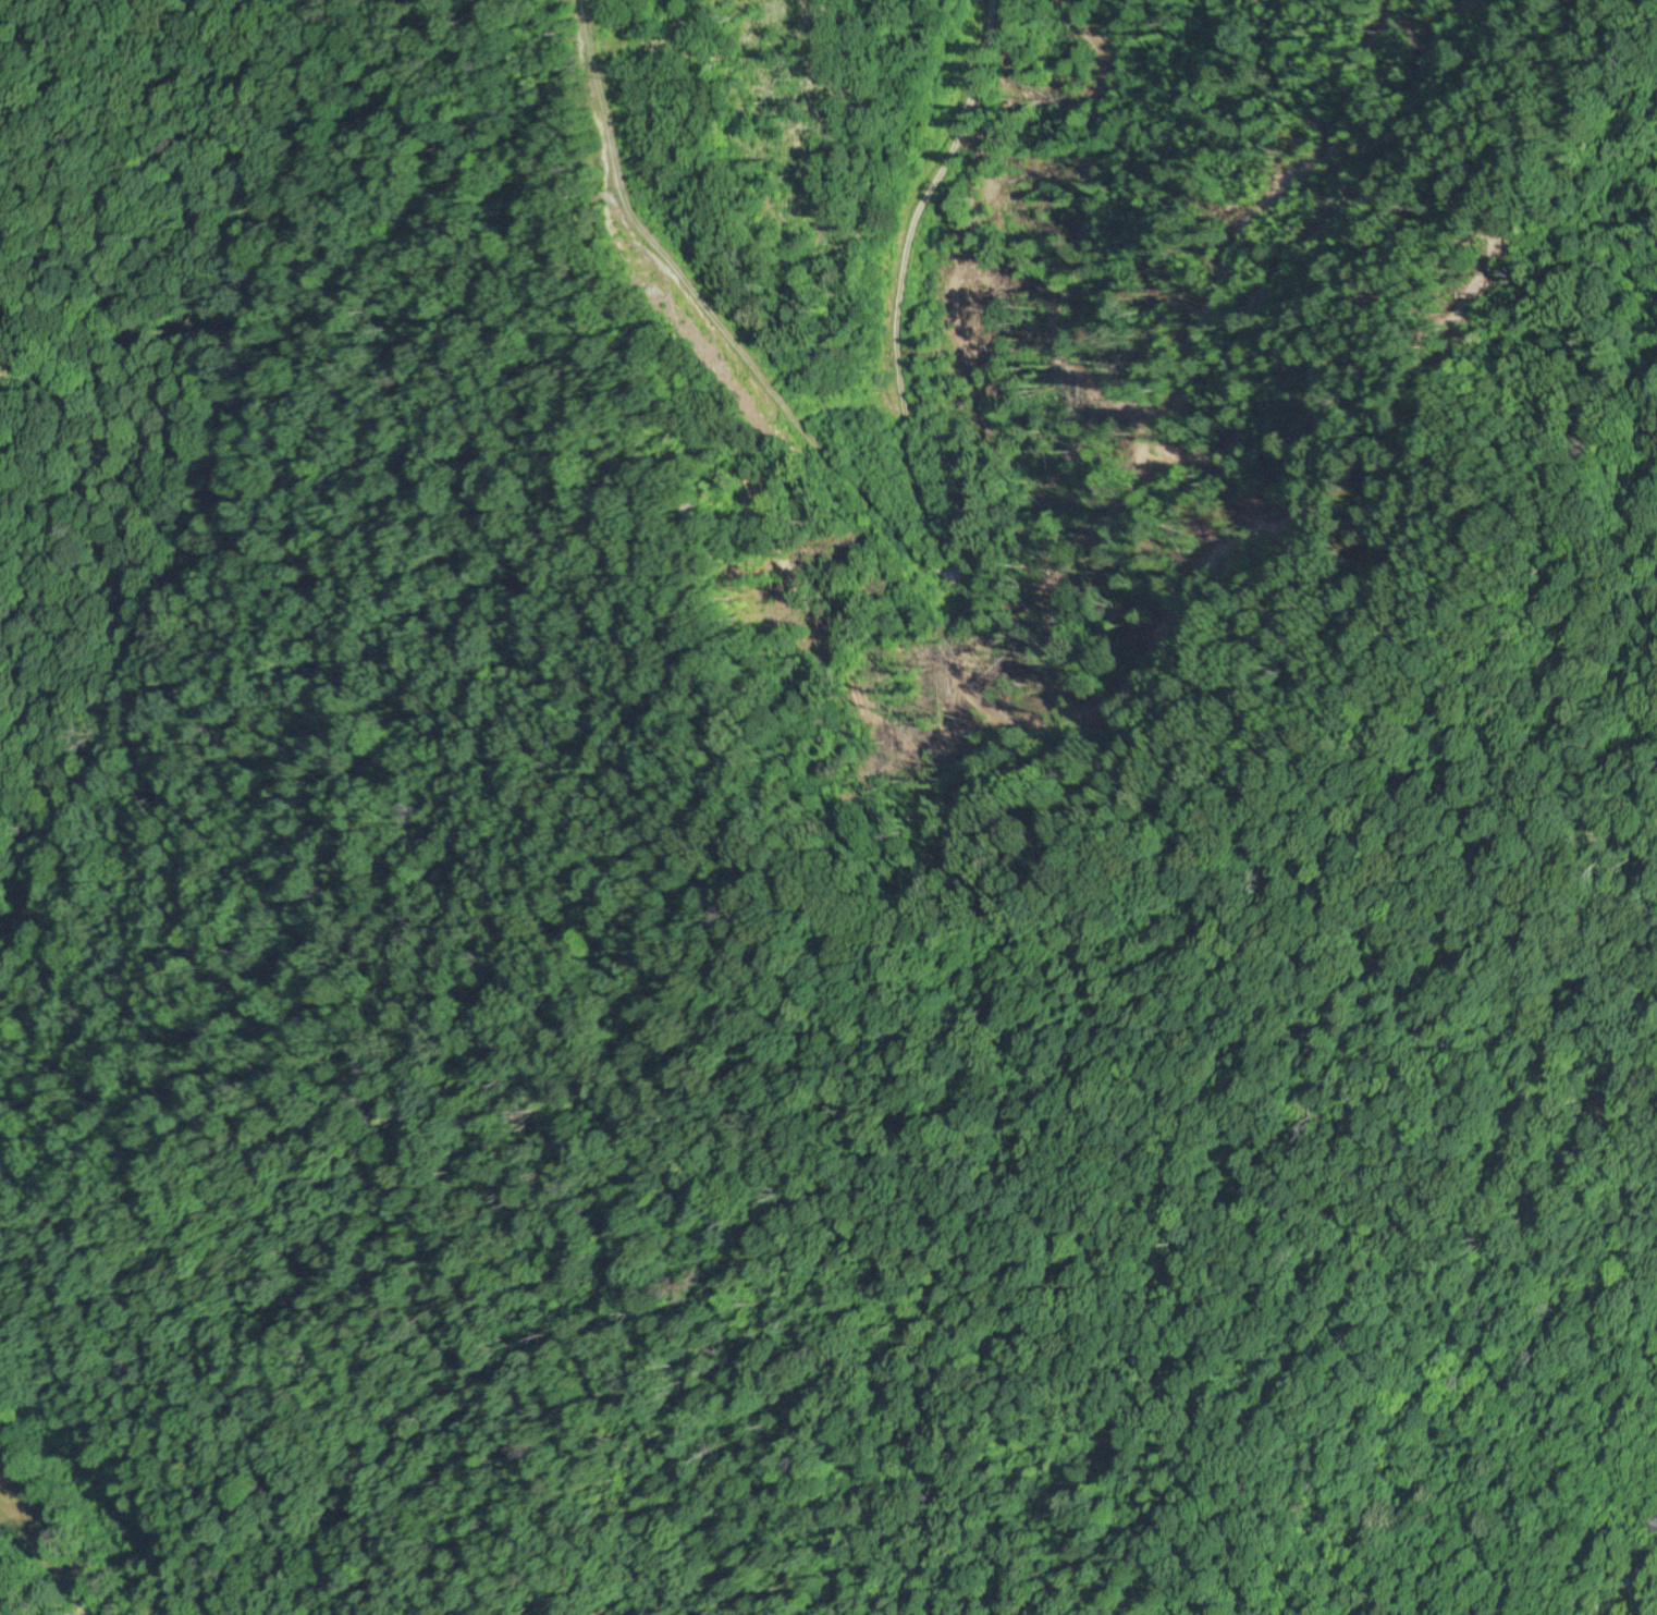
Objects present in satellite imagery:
road: (34, 1592)

